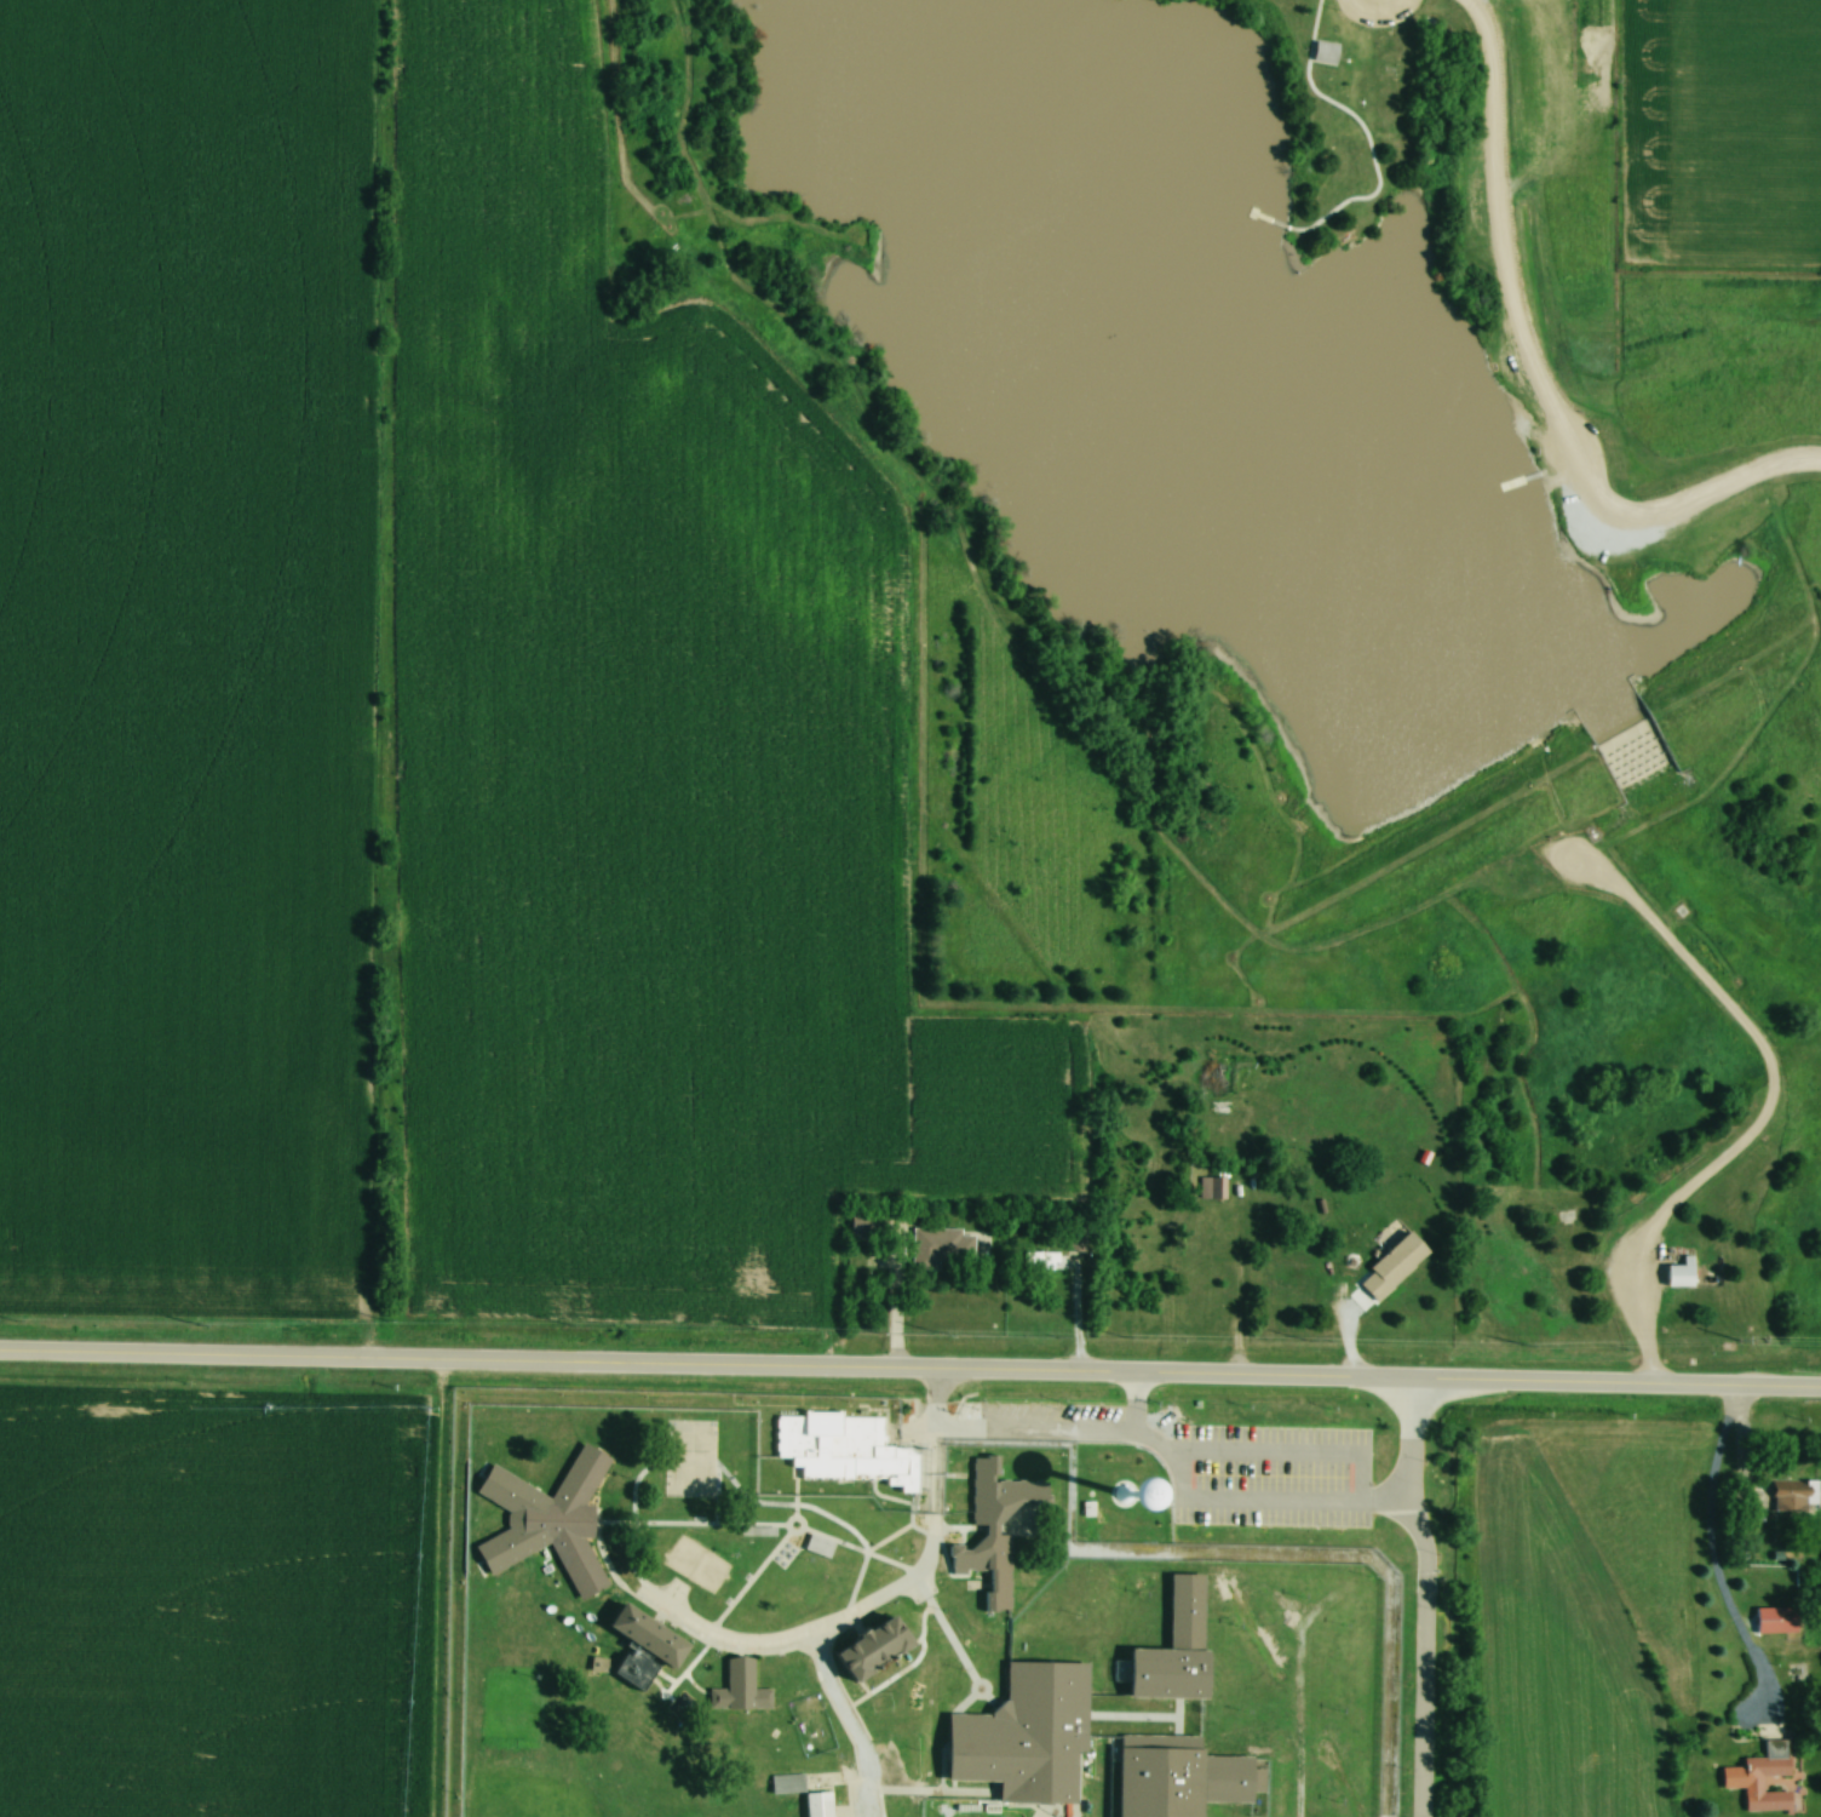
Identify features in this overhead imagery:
building: (1334, 39)
road: (1523, 377)
crop: (180, 652)
road: (1759, 1111)
building: (1208, 1188)
building: (864, 1225)
building: (938, 1248)
building: (1389, 1266)
building: (1677, 1274)
road: (466, 1343)
road: (1377, 1365)
building: (844, 1451)
road: (1173, 1468)
water tower: (1110, 1497)
building: (1109, 1498)
building: (1786, 1503)
building: (544, 1521)
building: (990, 1527)
road: (1710, 1551)
road: (1423, 1589)
road: (879, 1595)
crop: (207, 1605)
building: (1773, 1621)
building: (642, 1637)
building: (1171, 1649)
building: (867, 1650)
building: (631, 1672)
building: (791, 1679)
building: (740, 1687)
road: (848, 1723)
building: (642, 1732)
building: (1022, 1736)
building: (1173, 1777)
building: (1758, 1778)
building: (783, 1784)
building: (815, 1804)

